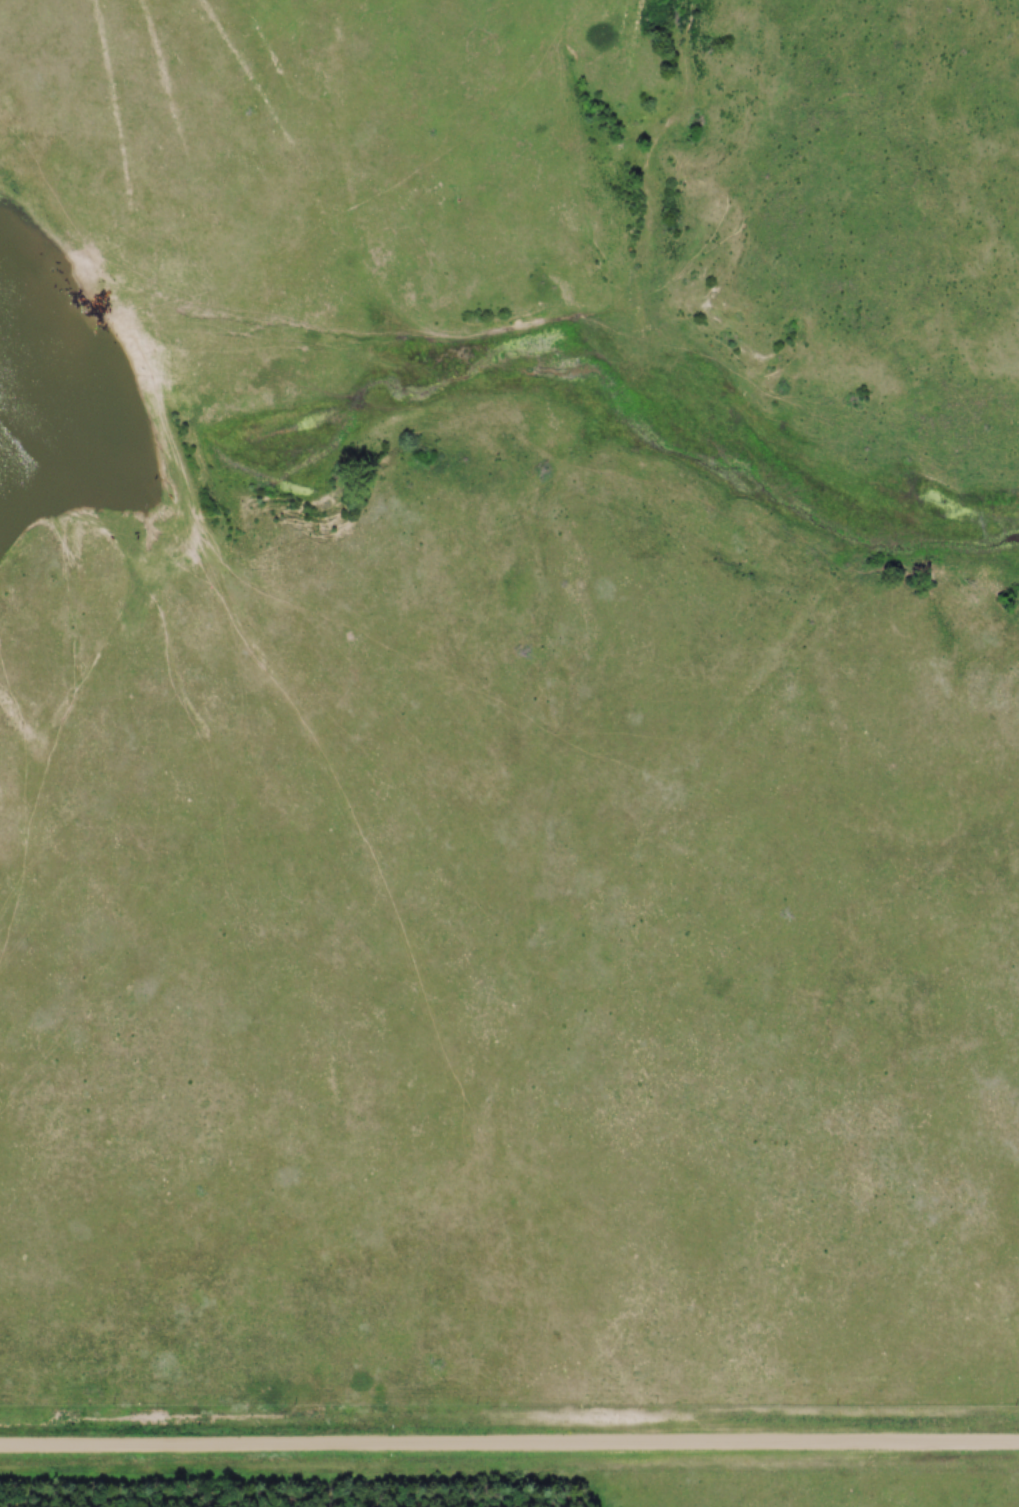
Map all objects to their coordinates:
road: (509, 1431)

